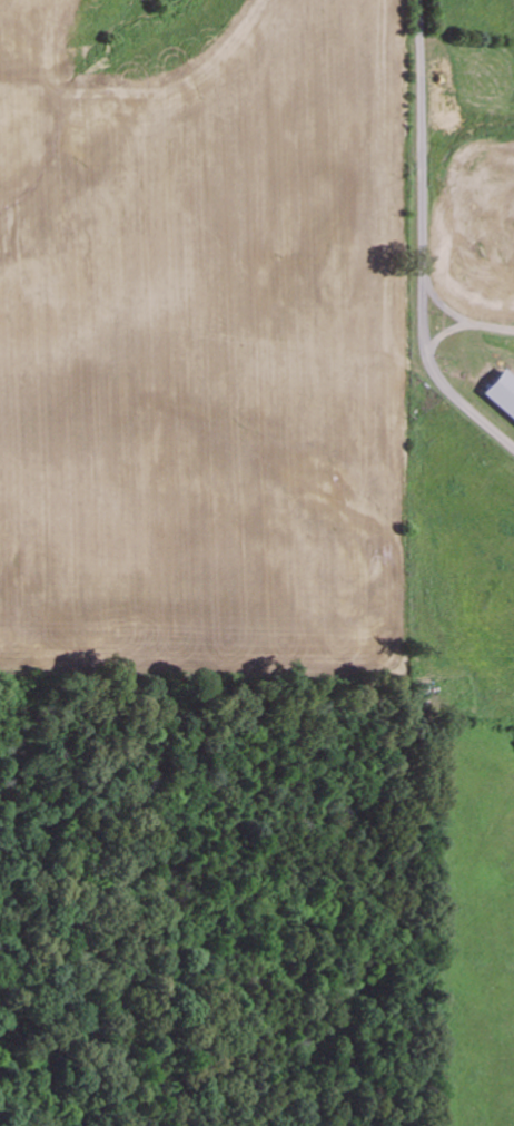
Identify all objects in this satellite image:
building: (502, 391)

